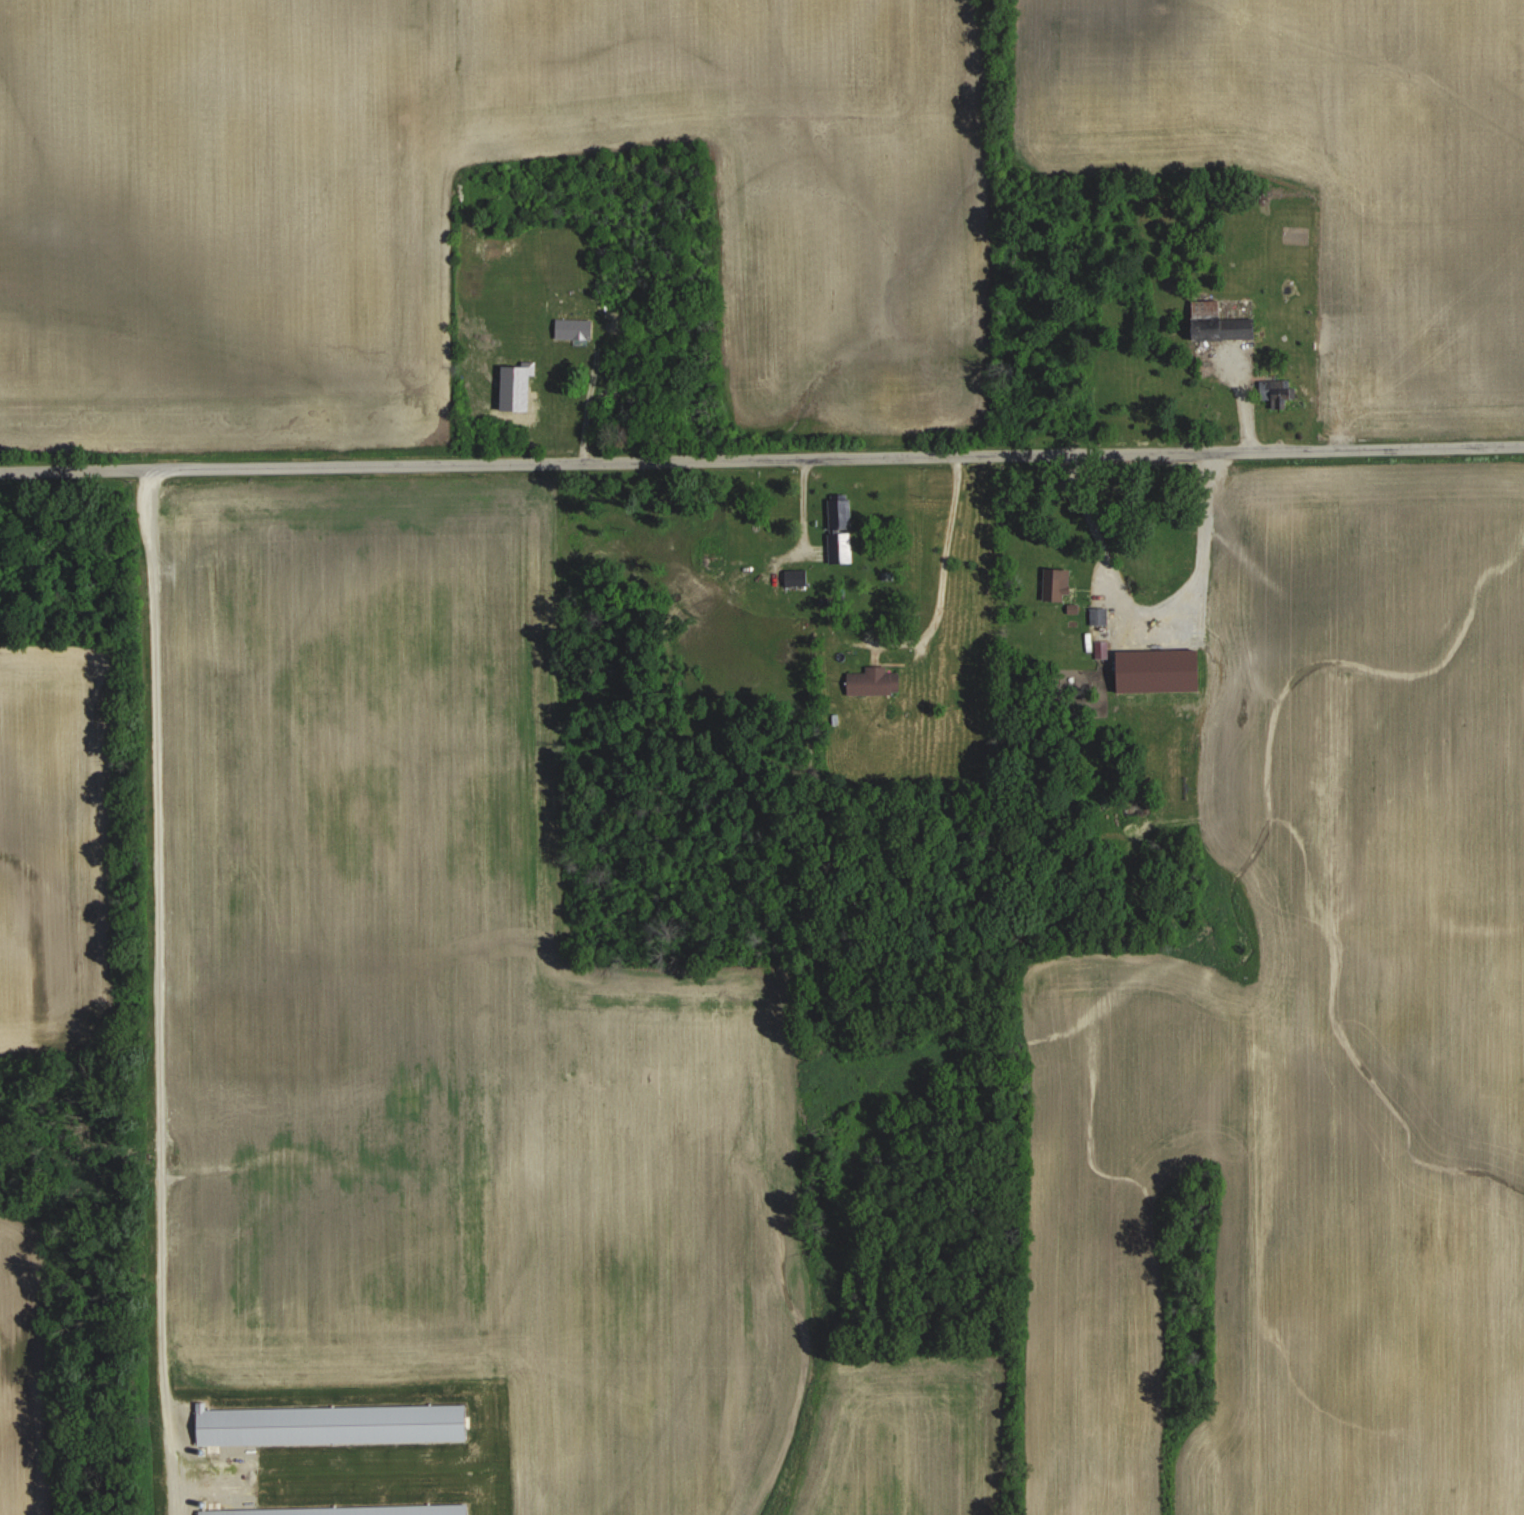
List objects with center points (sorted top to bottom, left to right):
building: (1216, 321)
building: (575, 328)
building: (1274, 391)
road: (762, 455)
building: (839, 512)
road: (947, 549)
building: (795, 576)
building: (1062, 583)
road: (1149, 611)
building: (1098, 614)
building: (872, 680)
road: (159, 989)

